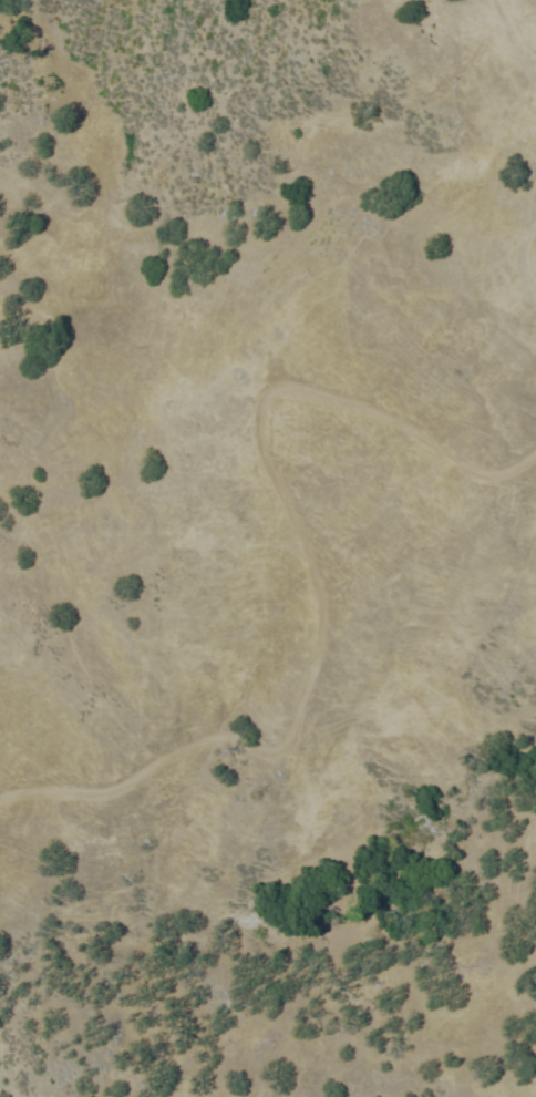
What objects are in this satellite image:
road: (513, 42)
road: (522, 263)
road: (313, 570)

